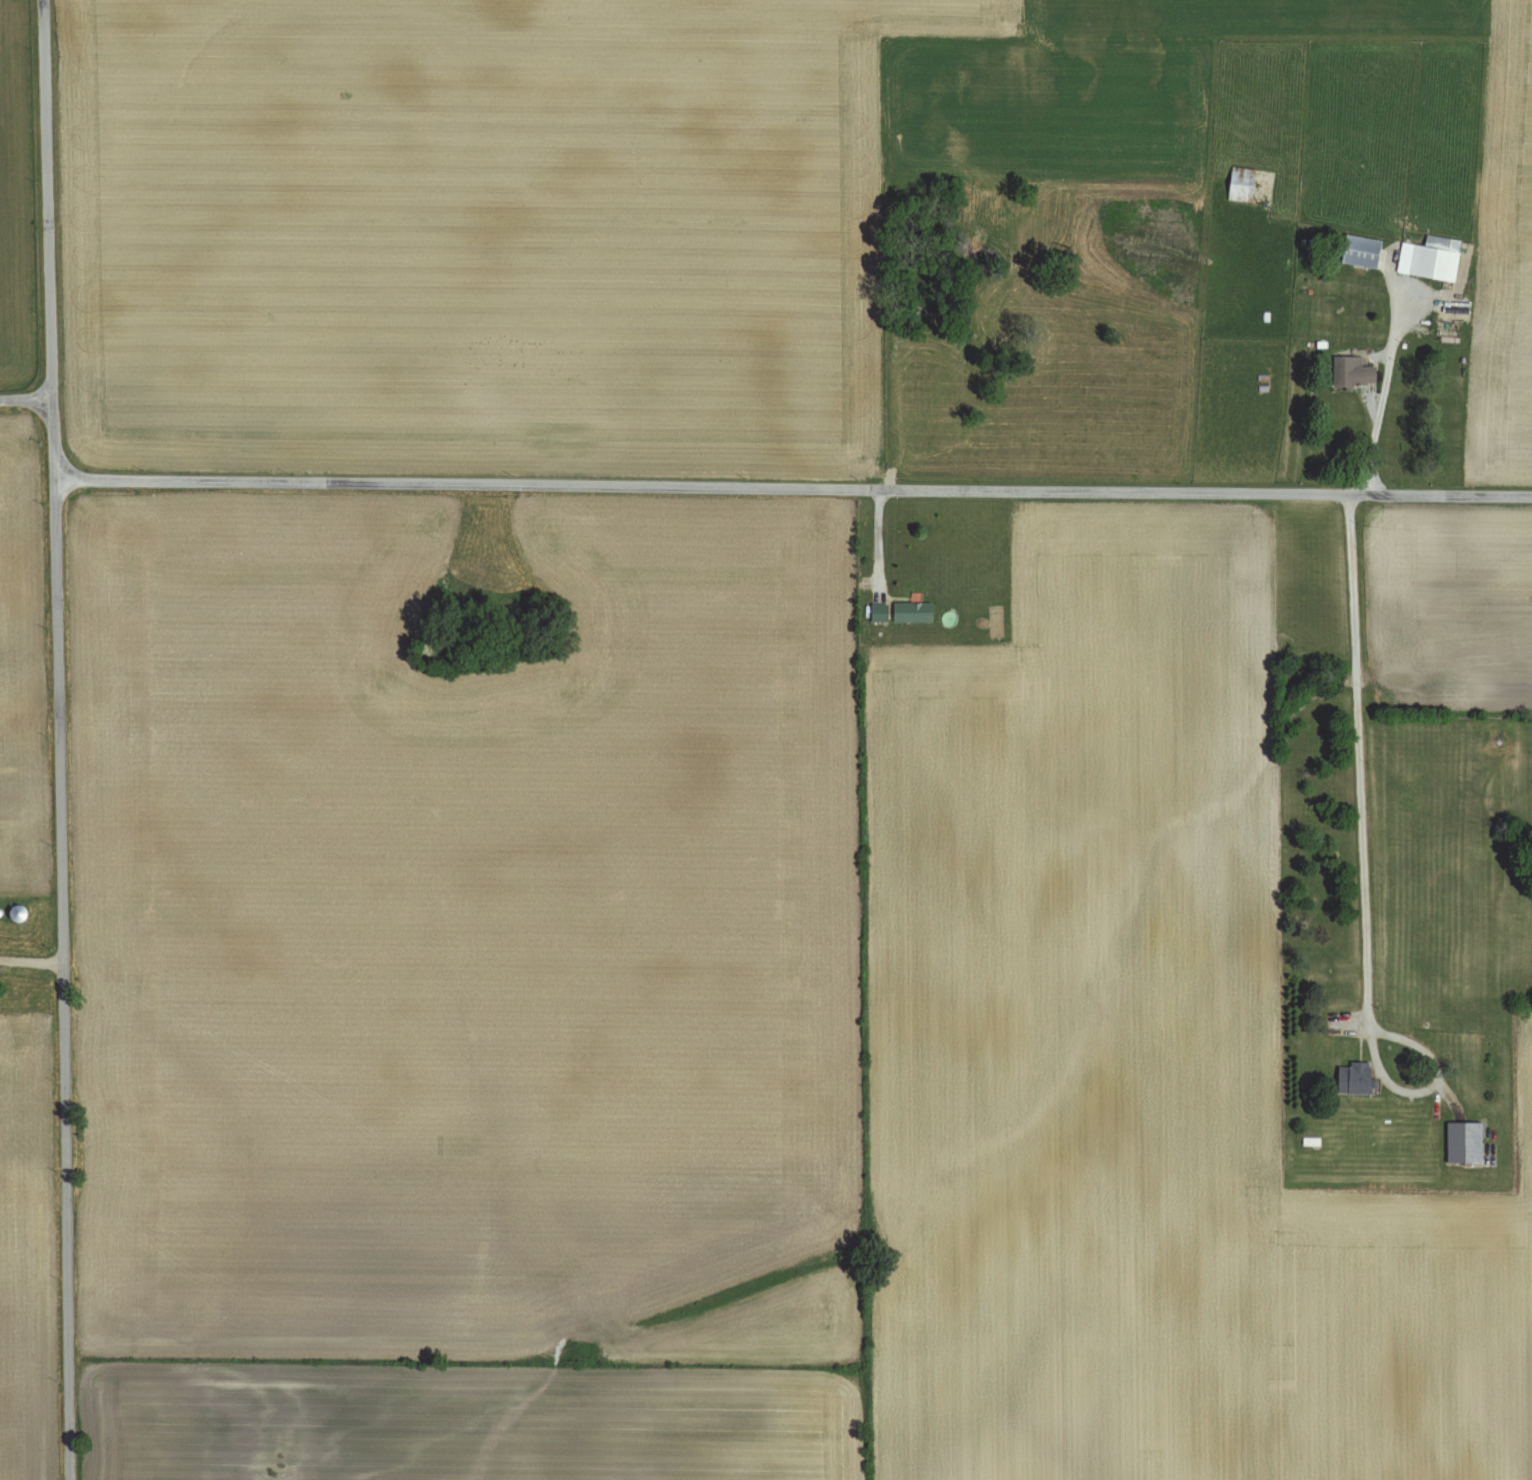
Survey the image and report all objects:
building: (1242, 185)
building: (1361, 251)
building: (1431, 258)
building: (1353, 371)
road: (1384, 394)
road: (26, 398)
road: (793, 488)
road: (883, 541)
building: (912, 612)
building: (879, 613)
road: (59, 739)
road: (1363, 868)
road: (31, 964)
building: (1354, 1079)
building: (1464, 1143)

